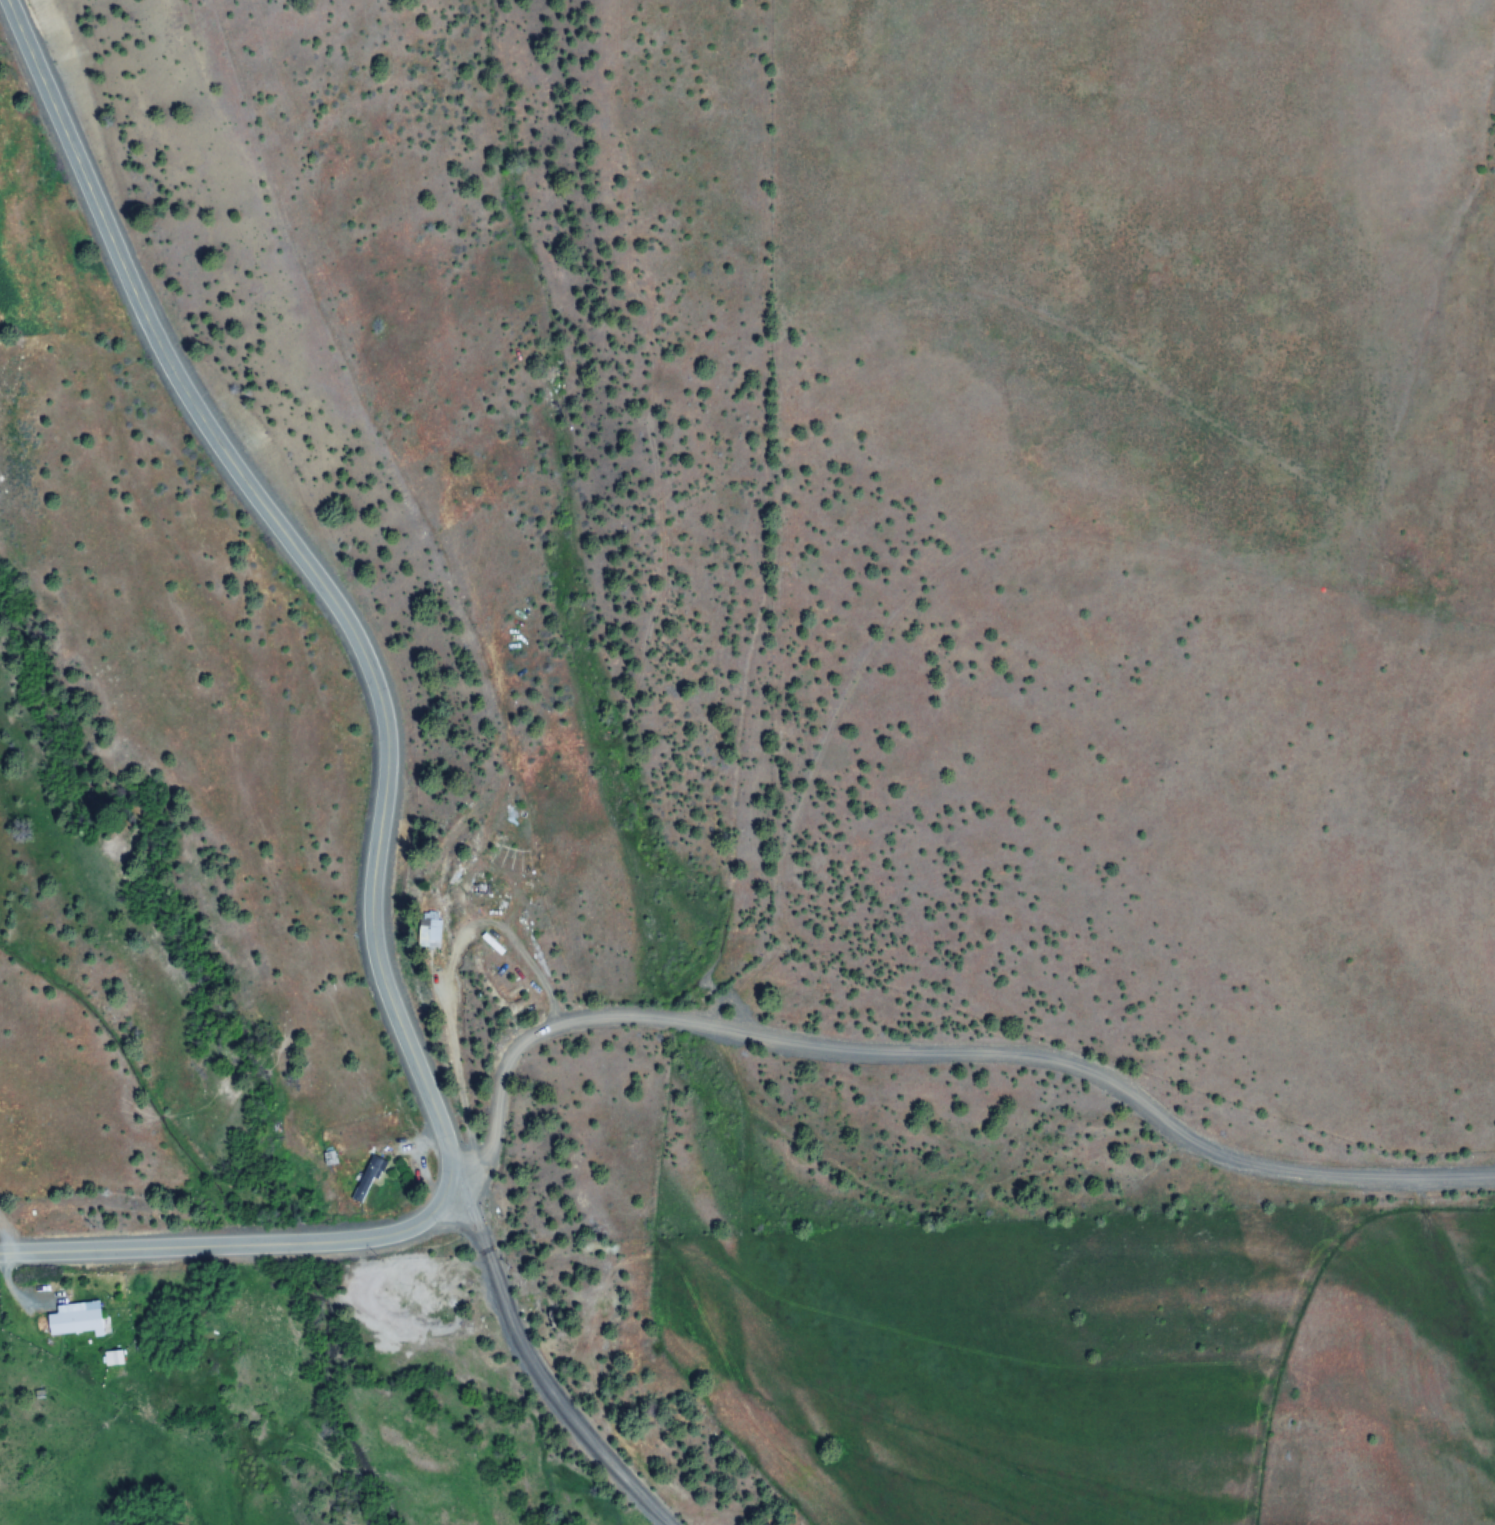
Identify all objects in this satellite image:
road: (311, 568)
road: (958, 1058)
building: (370, 1176)
road: (238, 1242)
building: (76, 1319)
road: (547, 1370)

